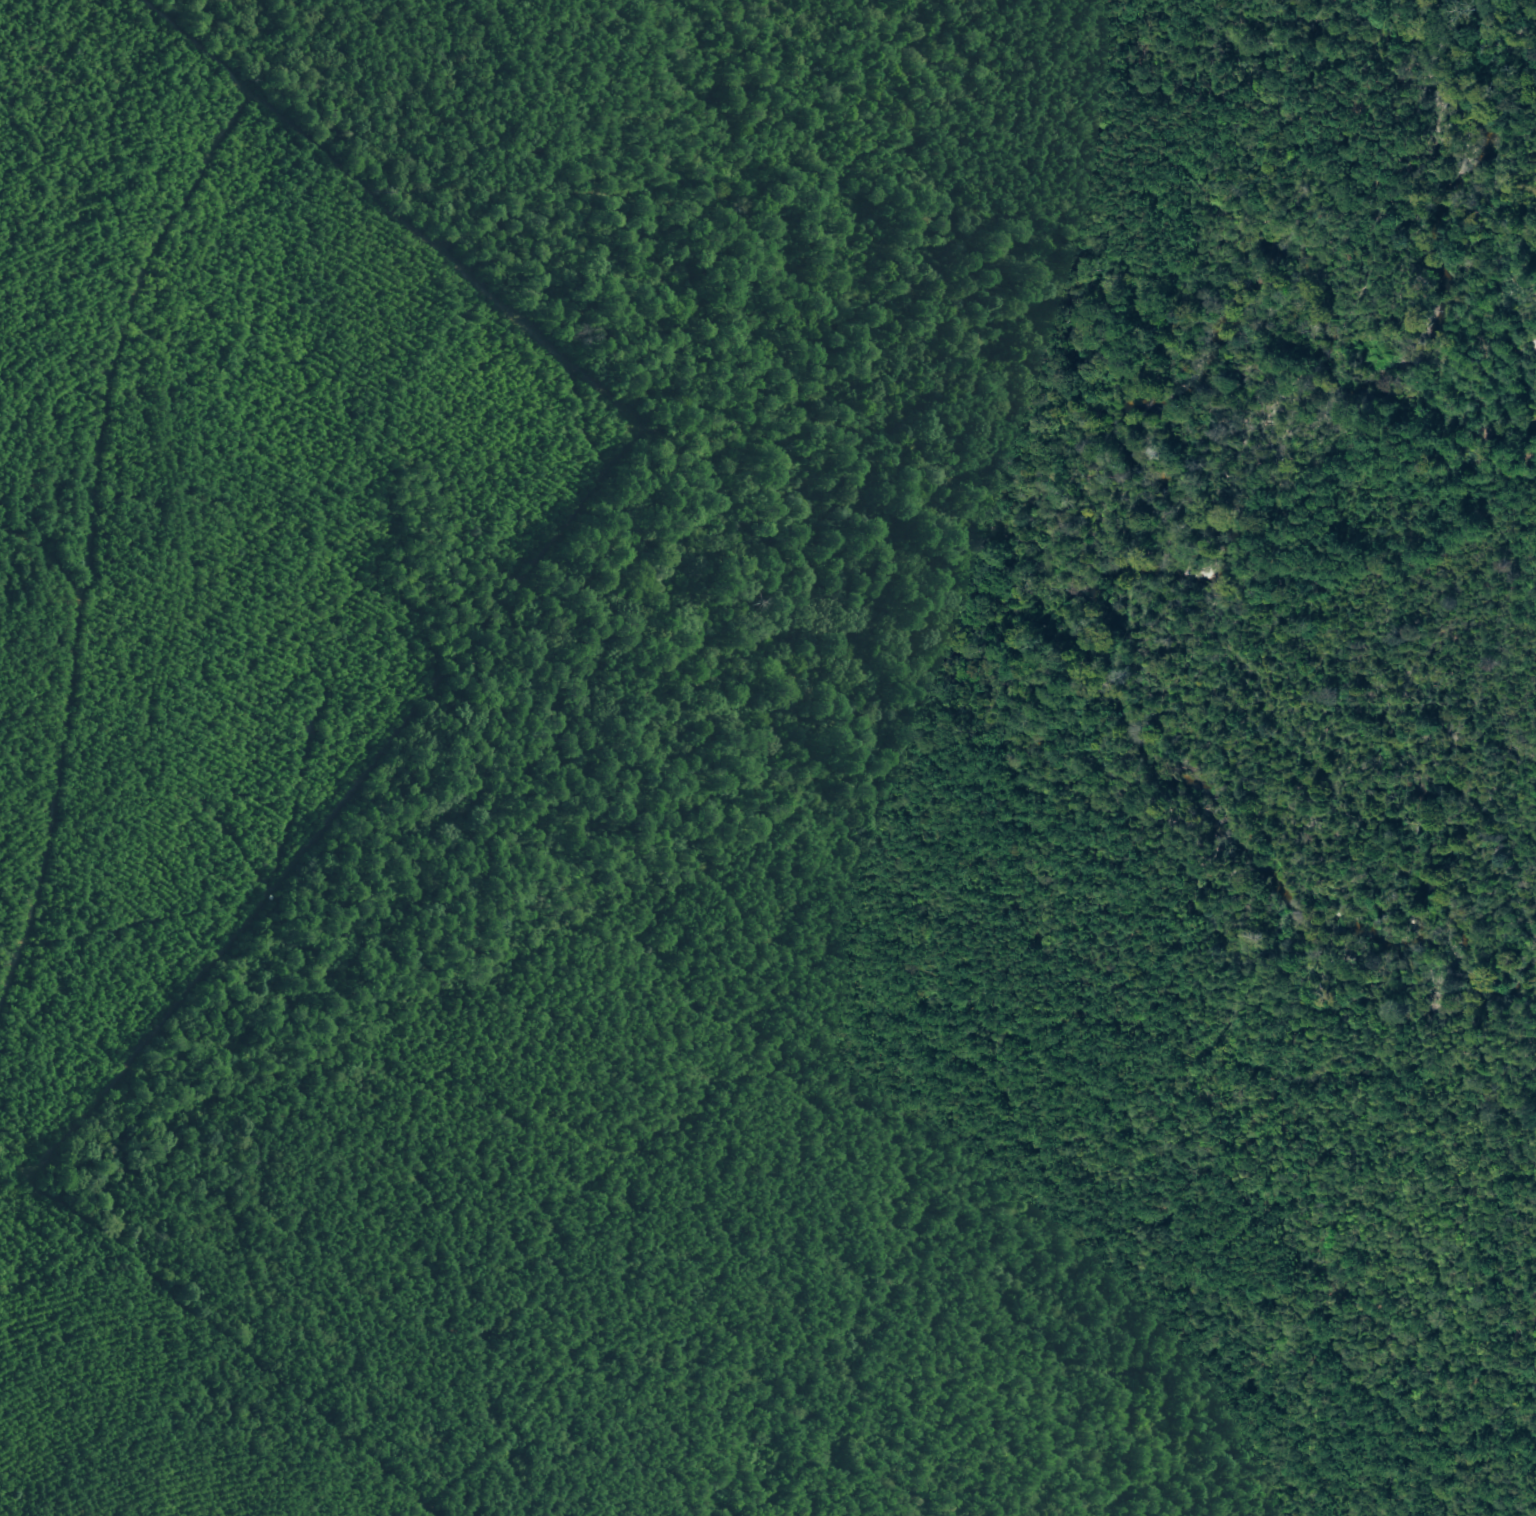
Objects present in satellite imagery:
road: (1527, 387)

